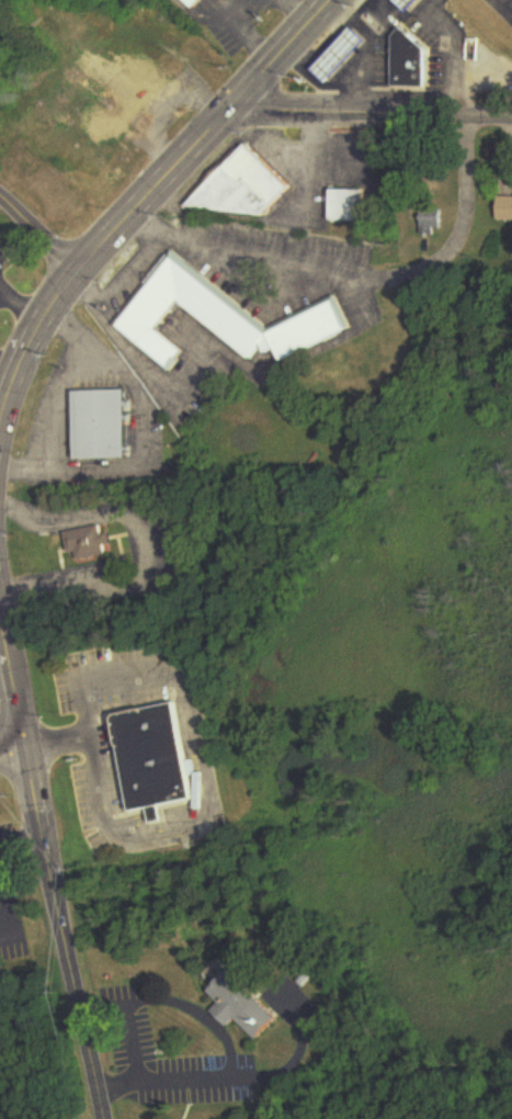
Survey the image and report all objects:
building: (196, 2)
road: (375, 3)
building: (411, 3)
road: (507, 4)
road: (298, 9)
road: (357, 25)
road: (242, 33)
road: (327, 42)
road: (448, 53)
road: (365, 54)
building: (340, 55)
building: (409, 59)
building: (129, 81)
road: (368, 111)
building: (104, 125)
building: (52, 188)
building: (247, 189)
road: (146, 192)
building: (348, 206)
building: (502, 208)
building: (428, 223)
road: (38, 231)
road: (355, 276)
road: (120, 281)
road: (255, 297)
building: (218, 320)
road: (62, 323)
road: (58, 399)
building: (104, 426)
road: (141, 430)
road: (26, 466)
building: (89, 543)
road: (146, 550)
road: (11, 685)
road: (208, 735)
road: (11, 746)
building: (167, 760)
road: (21, 841)
road: (61, 931)
building: (251, 1008)
road: (133, 1042)
road: (230, 1043)

